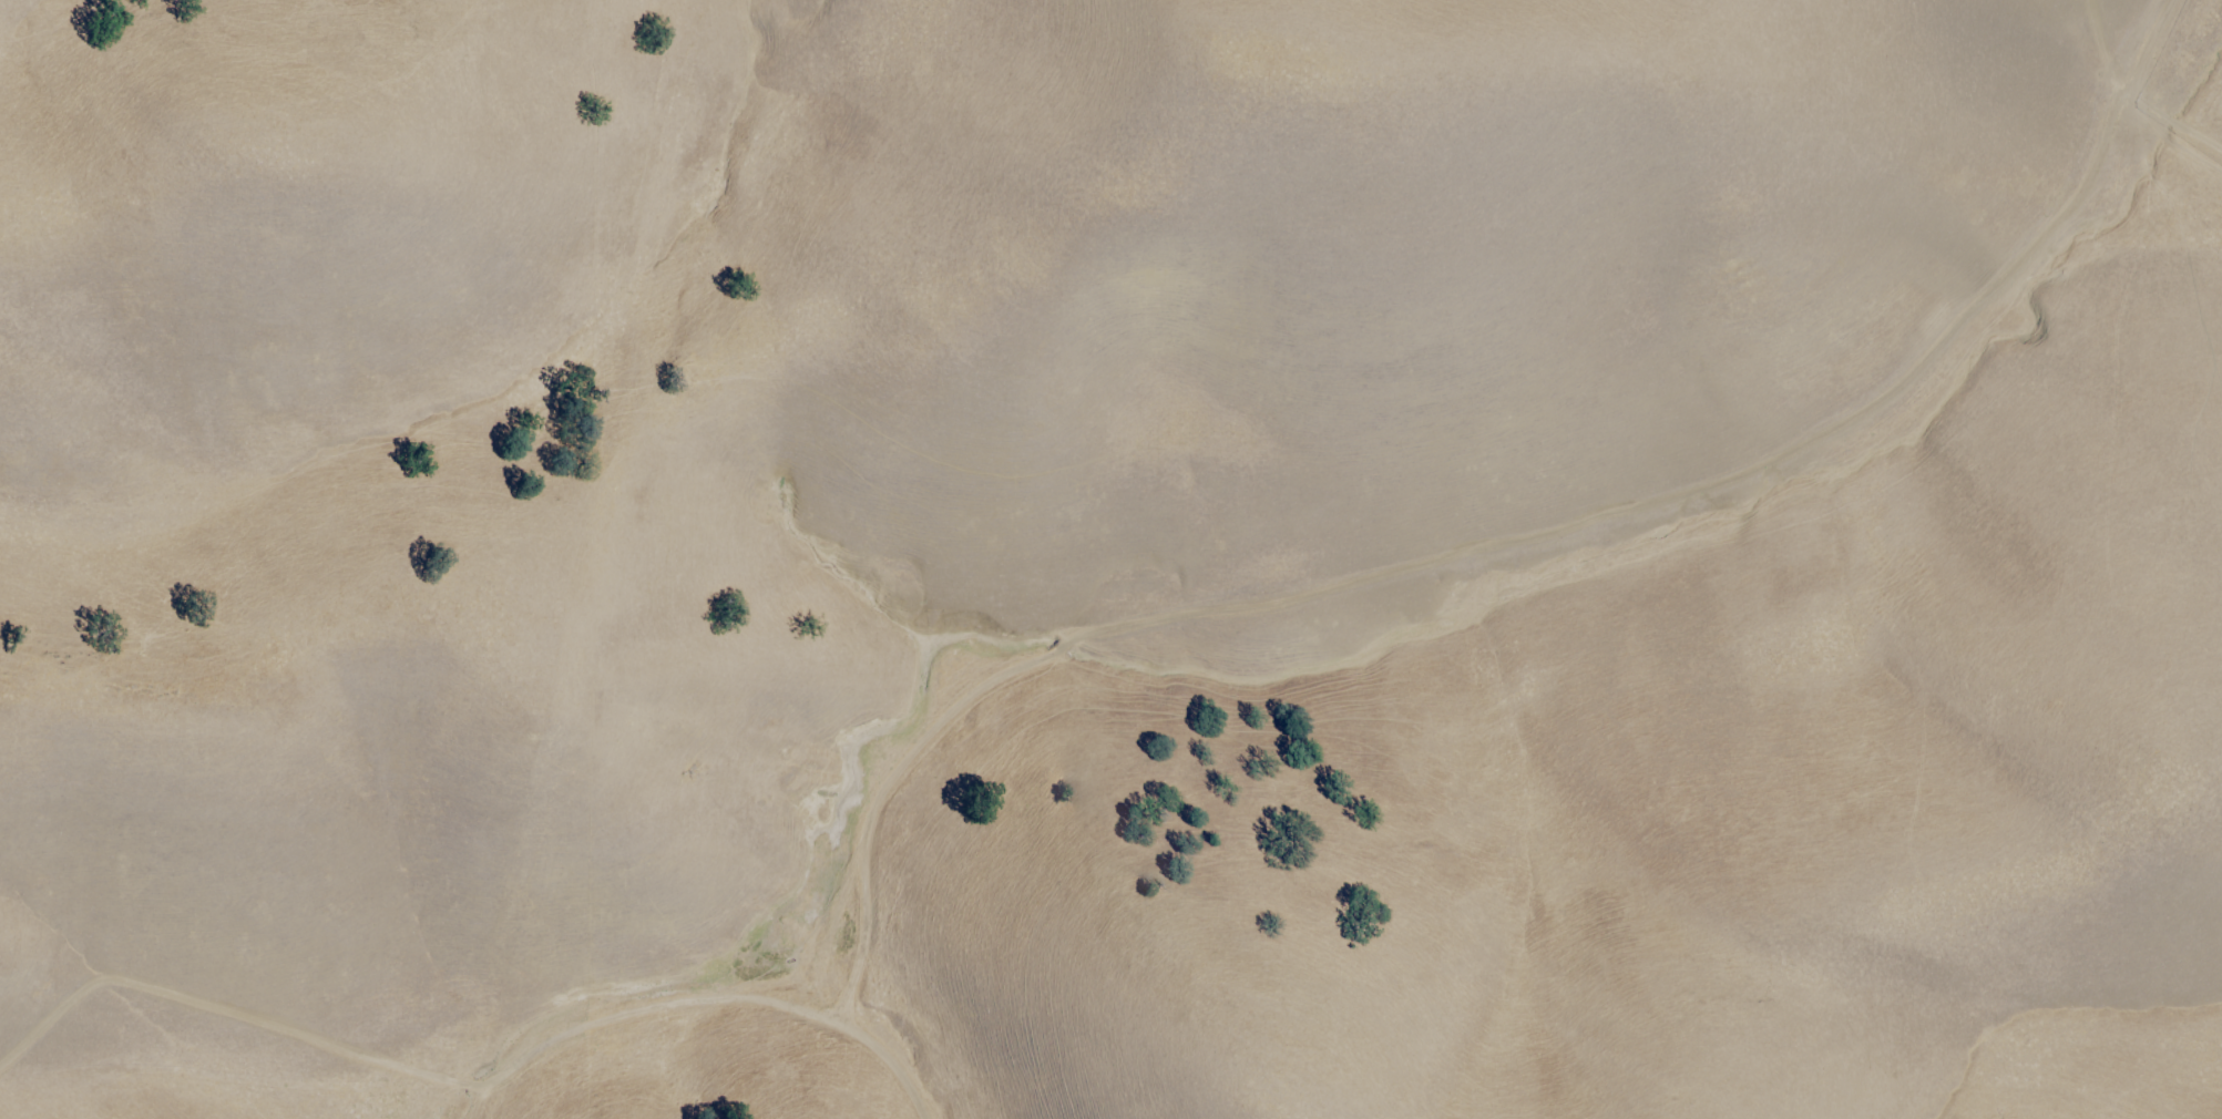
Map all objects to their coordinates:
road: (2100, 42)
road: (1450, 559)

